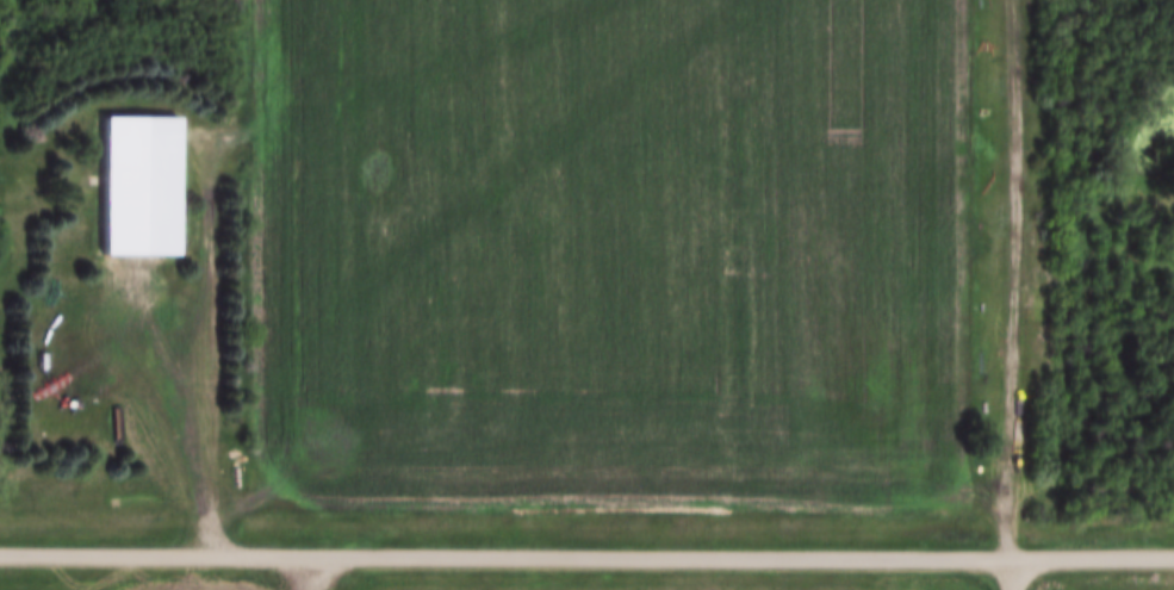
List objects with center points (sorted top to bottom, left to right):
road: (1015, 278)
road: (220, 341)
road: (504, 554)
road: (1092, 557)
road: (1010, 573)

